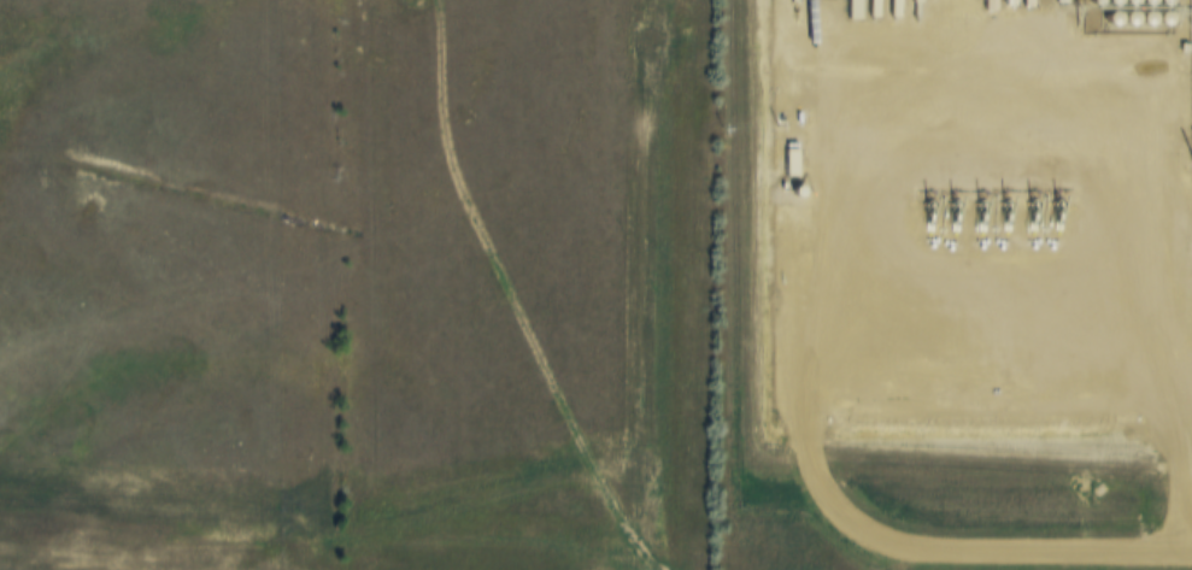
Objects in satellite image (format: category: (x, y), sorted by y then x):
road: (1187, 569)

